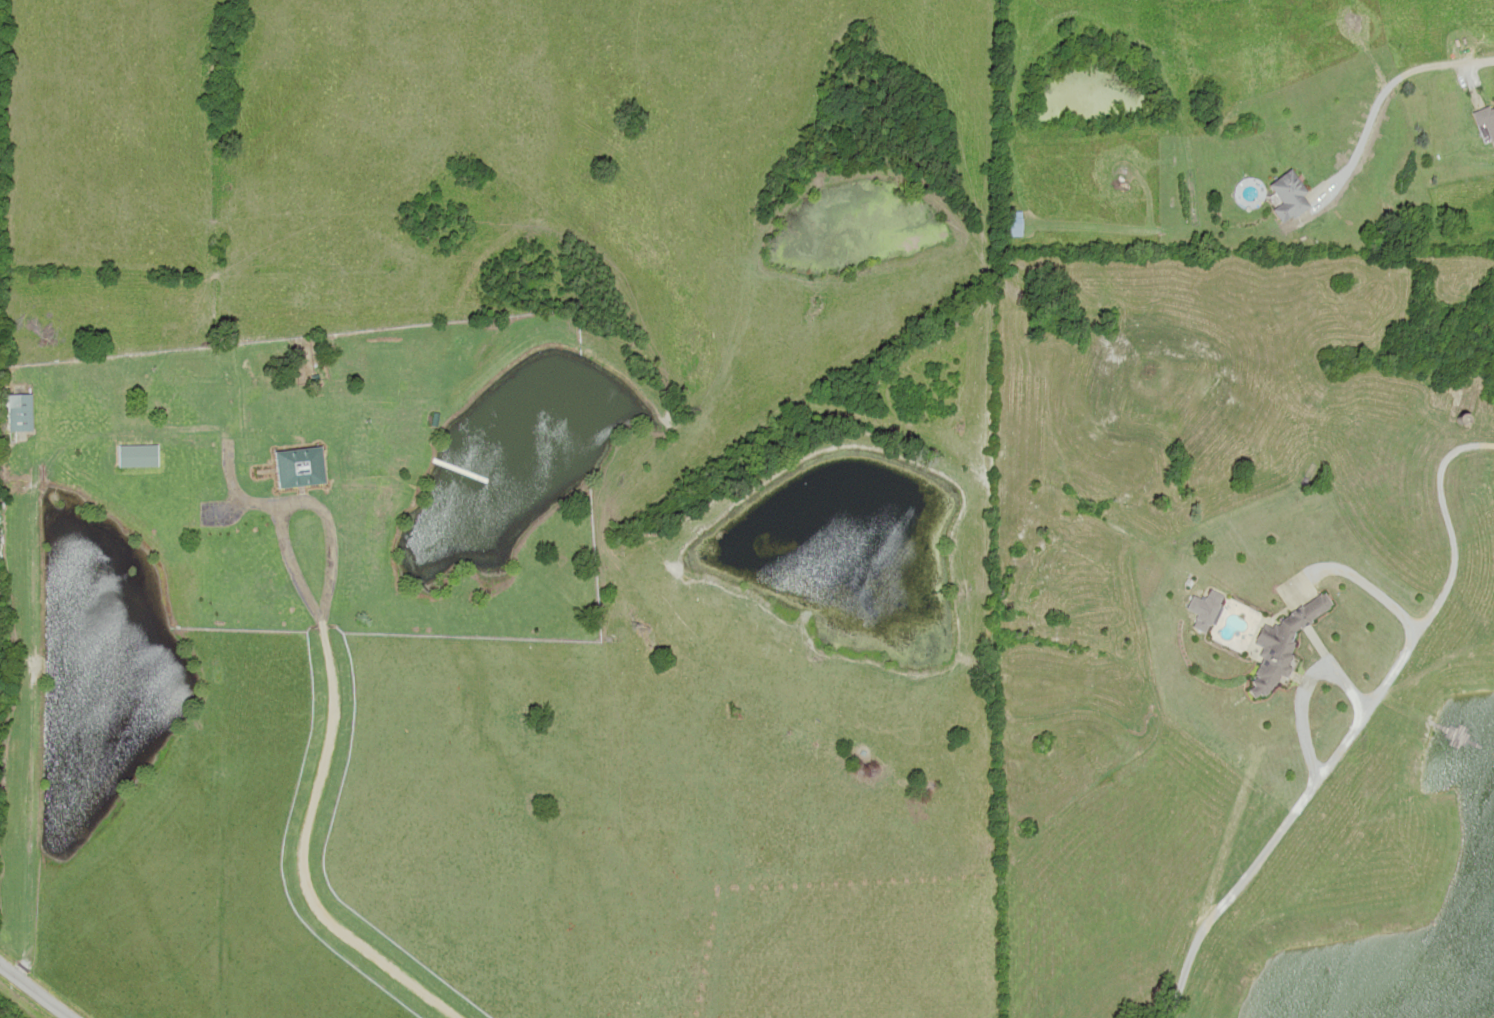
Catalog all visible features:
road: (1379, 93)
building: (1485, 115)
building: (1492, 134)
building: (1290, 194)
building: (21, 411)
building: (132, 455)
building: (302, 466)
road: (297, 500)
road: (30, 565)
road: (1314, 781)
road: (301, 855)
road: (36, 992)

